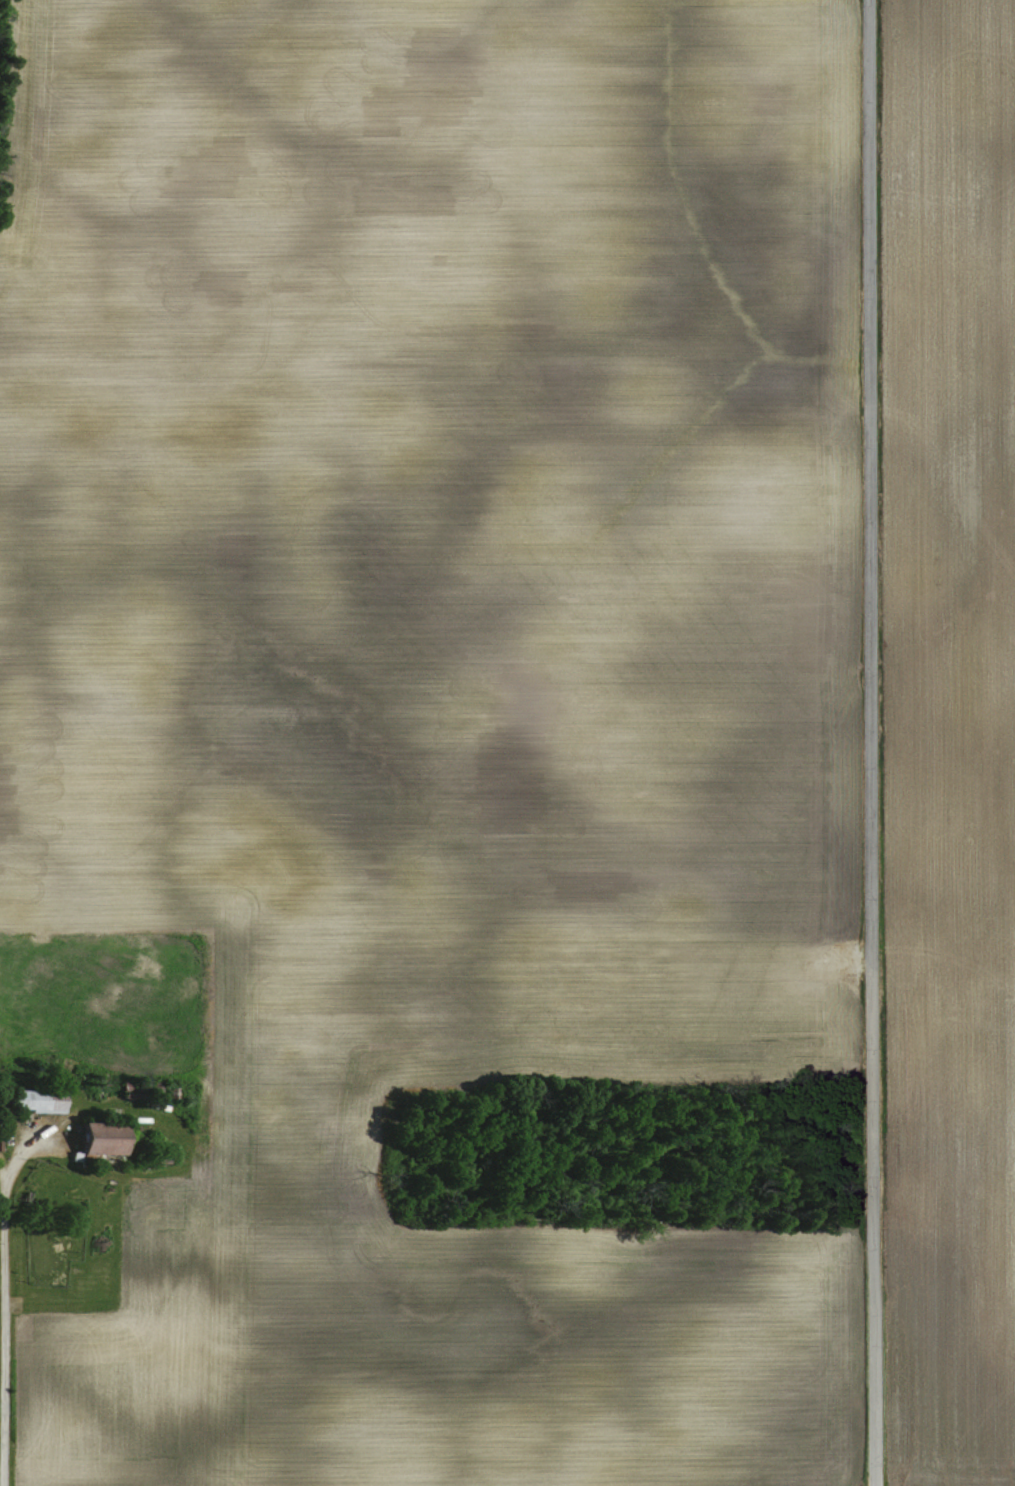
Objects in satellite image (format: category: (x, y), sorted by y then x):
road: (867, 742)
building: (24, 1100)
building: (91, 1140)
road: (3, 1182)

